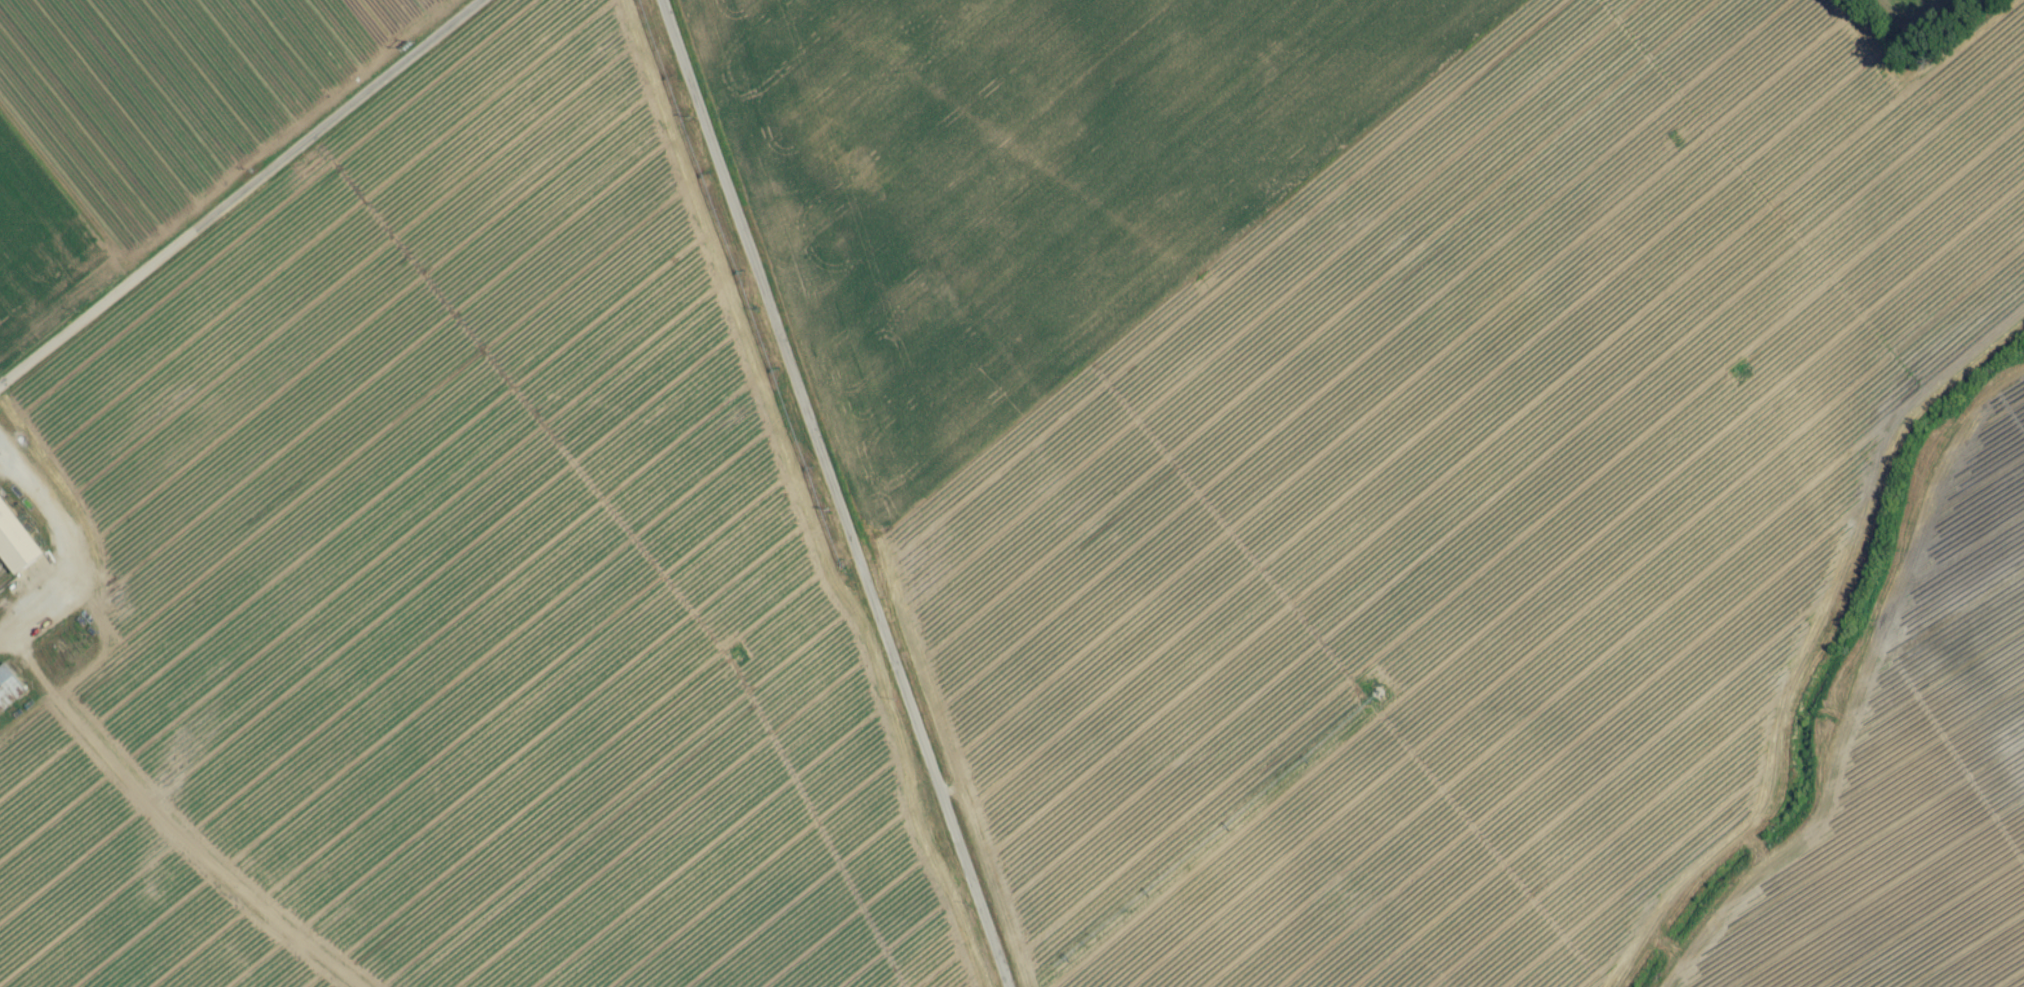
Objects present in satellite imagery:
road: (247, 191)
road: (832, 491)
building: (16, 549)
building: (9, 696)

